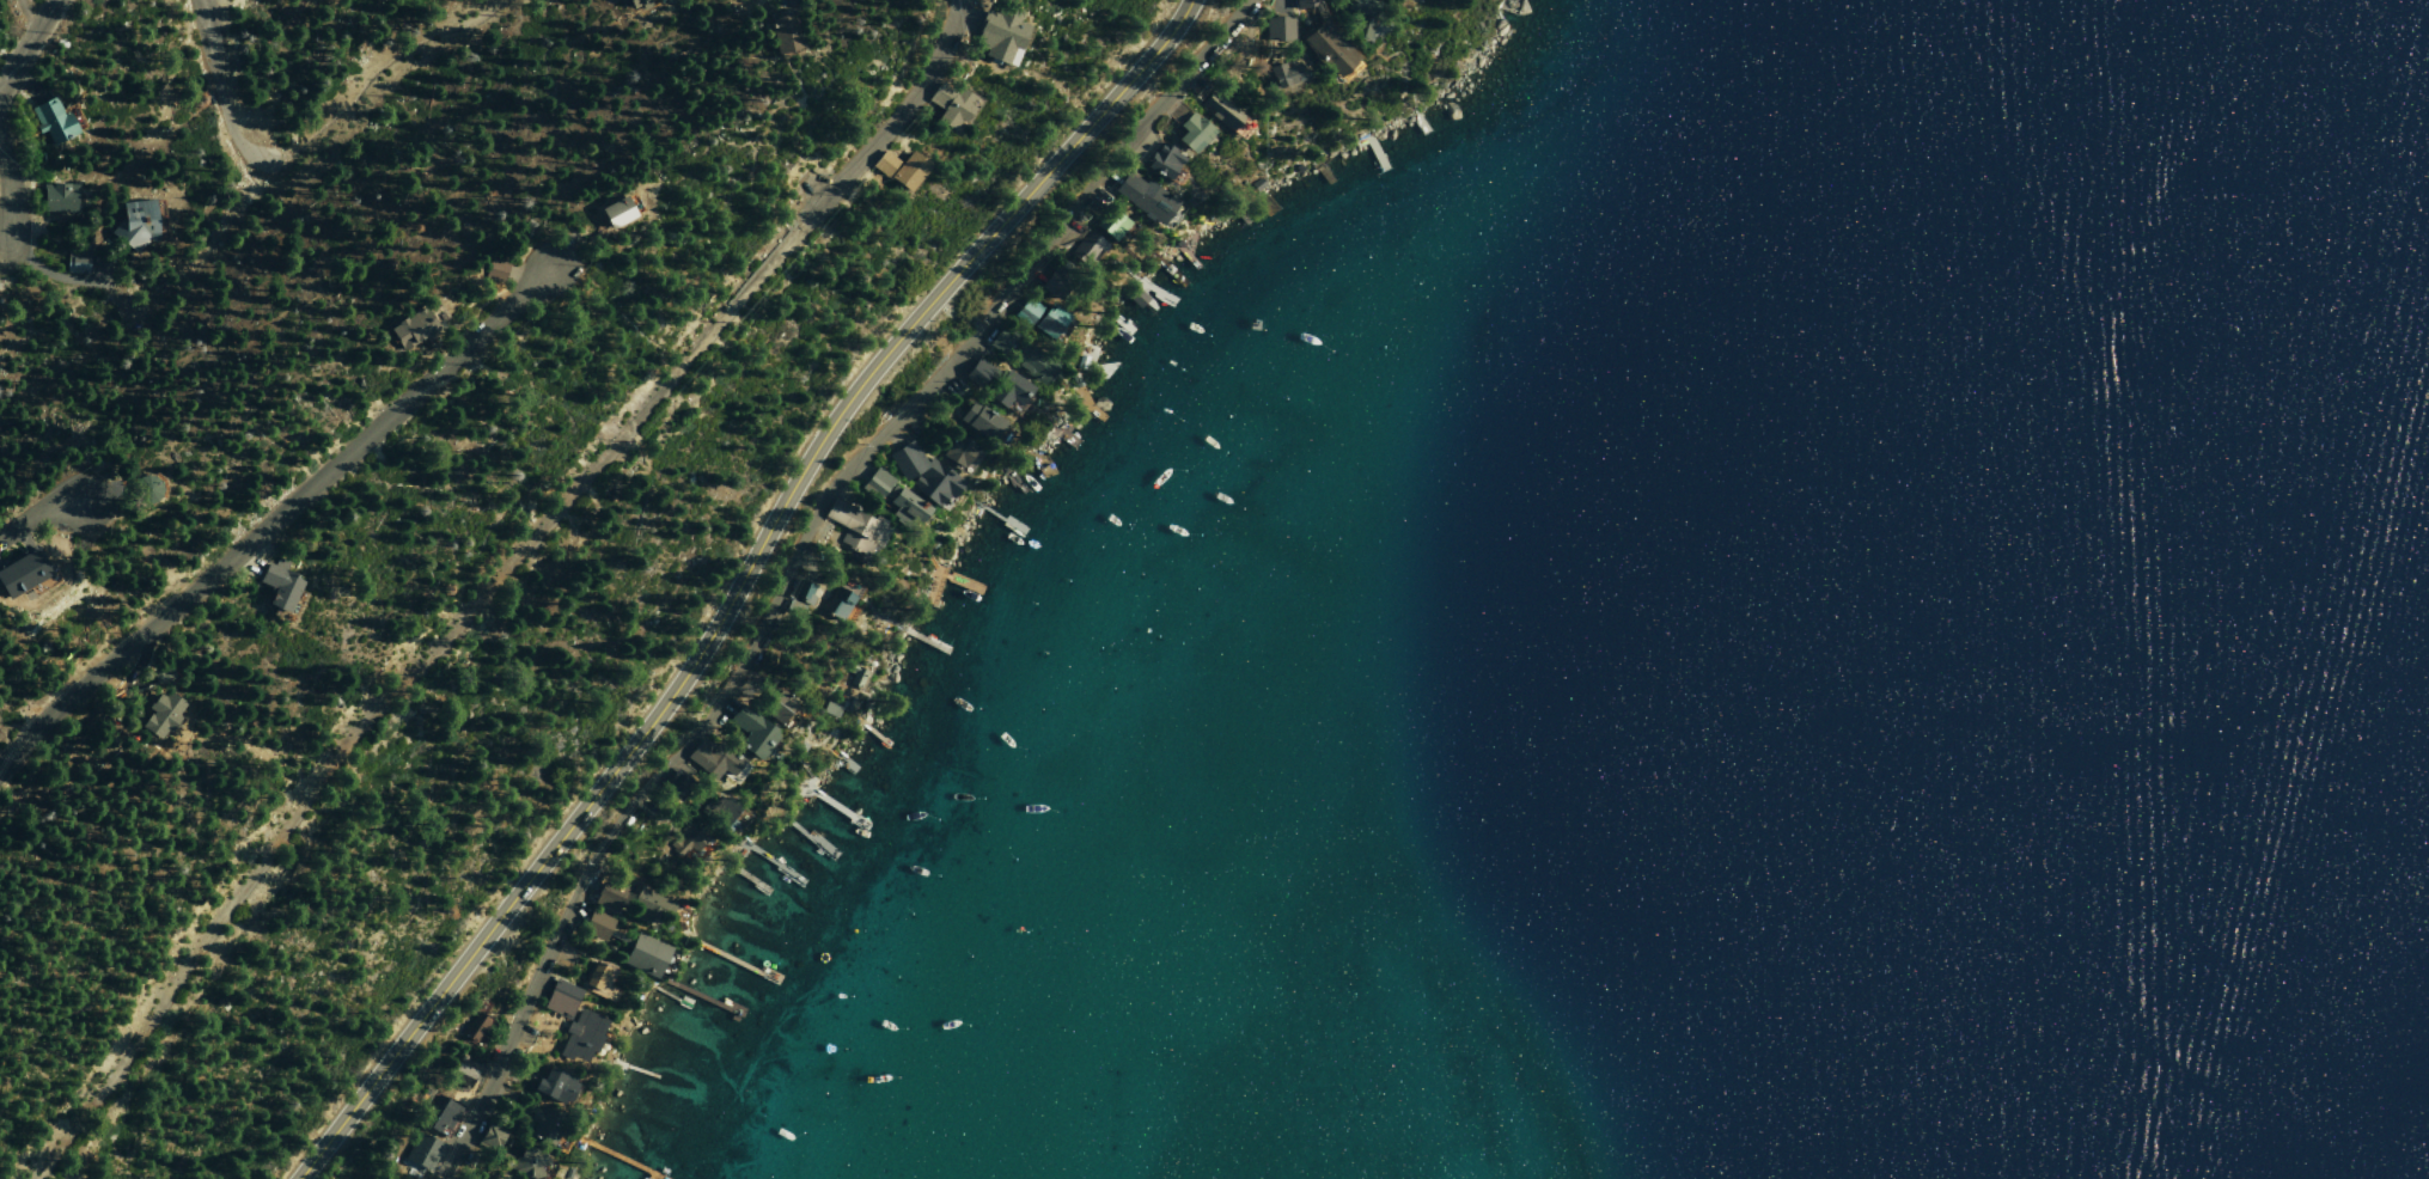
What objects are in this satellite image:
building: (1400, 0)
building: (635, 4)
building: (1302, 4)
building: (1362, 16)
road: (205, 29)
building: (1277, 29)
building: (781, 31)
building: (997, 33)
road: (28, 43)
building: (1326, 49)
road: (380, 68)
building: (1283, 74)
building: (948, 106)
building: (1219, 110)
pier: (1418, 118)
building: (48, 121)
road: (877, 126)
road: (236, 128)
building: (1190, 132)
pier: (1373, 151)
building: (1160, 160)
building: (883, 164)
pier: (1320, 170)
building: (907, 171)
road: (8, 194)
building: (54, 197)
building: (1143, 197)
pier: (1258, 202)
building: (614, 213)
building: (136, 222)
building: (1111, 225)
building: (1087, 249)
pier: (1185, 256)
building: (75, 262)
building: (494, 270)
pier: (1170, 271)
building: (1052, 283)
pier: (1148, 288)
pier: (1142, 294)
building: (1025, 312)
building: (1050, 320)
pier: (1116, 320)
building: (408, 329)
building: (1031, 362)
pier: (1093, 366)
building: (977, 373)
building: (1006, 389)
pier: (1085, 405)
building: (979, 421)
pier: (1062, 434)
building: (958, 451)
pier: (1038, 458)
building: (923, 475)
pier: (1011, 478)
building: (142, 489)
building: (892, 497)
road: (273, 511)
road: (36, 515)
pier: (996, 515)
building: (856, 527)
road: (793, 556)
building: (20, 573)
road: (738, 584)
building: (277, 587)
building: (800, 591)
building: (837, 604)
pier: (942, 607)
pier: (926, 641)
building: (855, 676)
road: (386, 694)
building: (776, 707)
building: (158, 715)
pier: (871, 732)
building: (749, 733)
pier: (844, 759)
building: (712, 760)
building: (672, 787)
pier: (832, 805)
pier: (805, 833)
building: (689, 839)
pier: (769, 859)
pier: (746, 876)
building: (648, 905)
building: (593, 926)
building: (643, 955)
pier: (731, 959)
building: (599, 982)
pier: (707, 995)
pier: (669, 996)
building: (559, 998)
building: (474, 1028)
building: (580, 1037)
pier: (634, 1070)
building: (553, 1086)
building: (439, 1114)
building: (542, 1124)
building: (488, 1137)
building: (421, 1150)
building: (526, 1160)
pier: (629, 1160)

